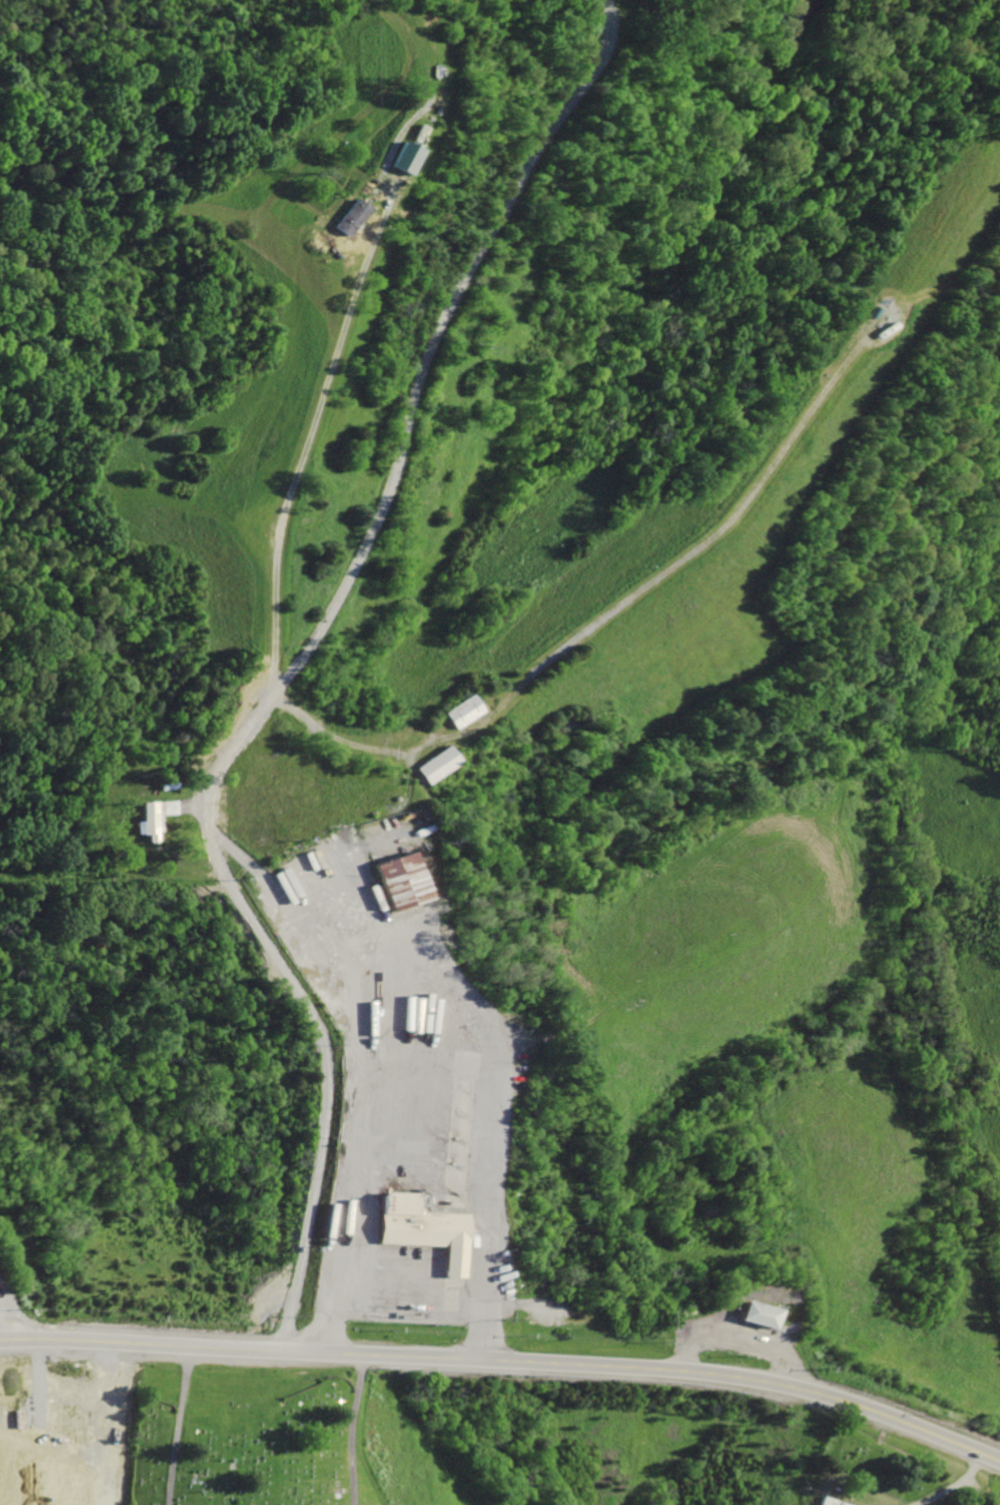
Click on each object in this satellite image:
building: (398, 159)
building: (345, 218)
road: (334, 338)
road: (600, 614)
road: (290, 667)
building: (456, 713)
building: (430, 766)
road: (346, 873)
building: (392, 883)
building: (418, 1231)
road: (405, 1301)
building: (749, 1317)
road: (507, 1363)
park: (248, 1429)
road: (67, 1459)
building: (824, 1502)

